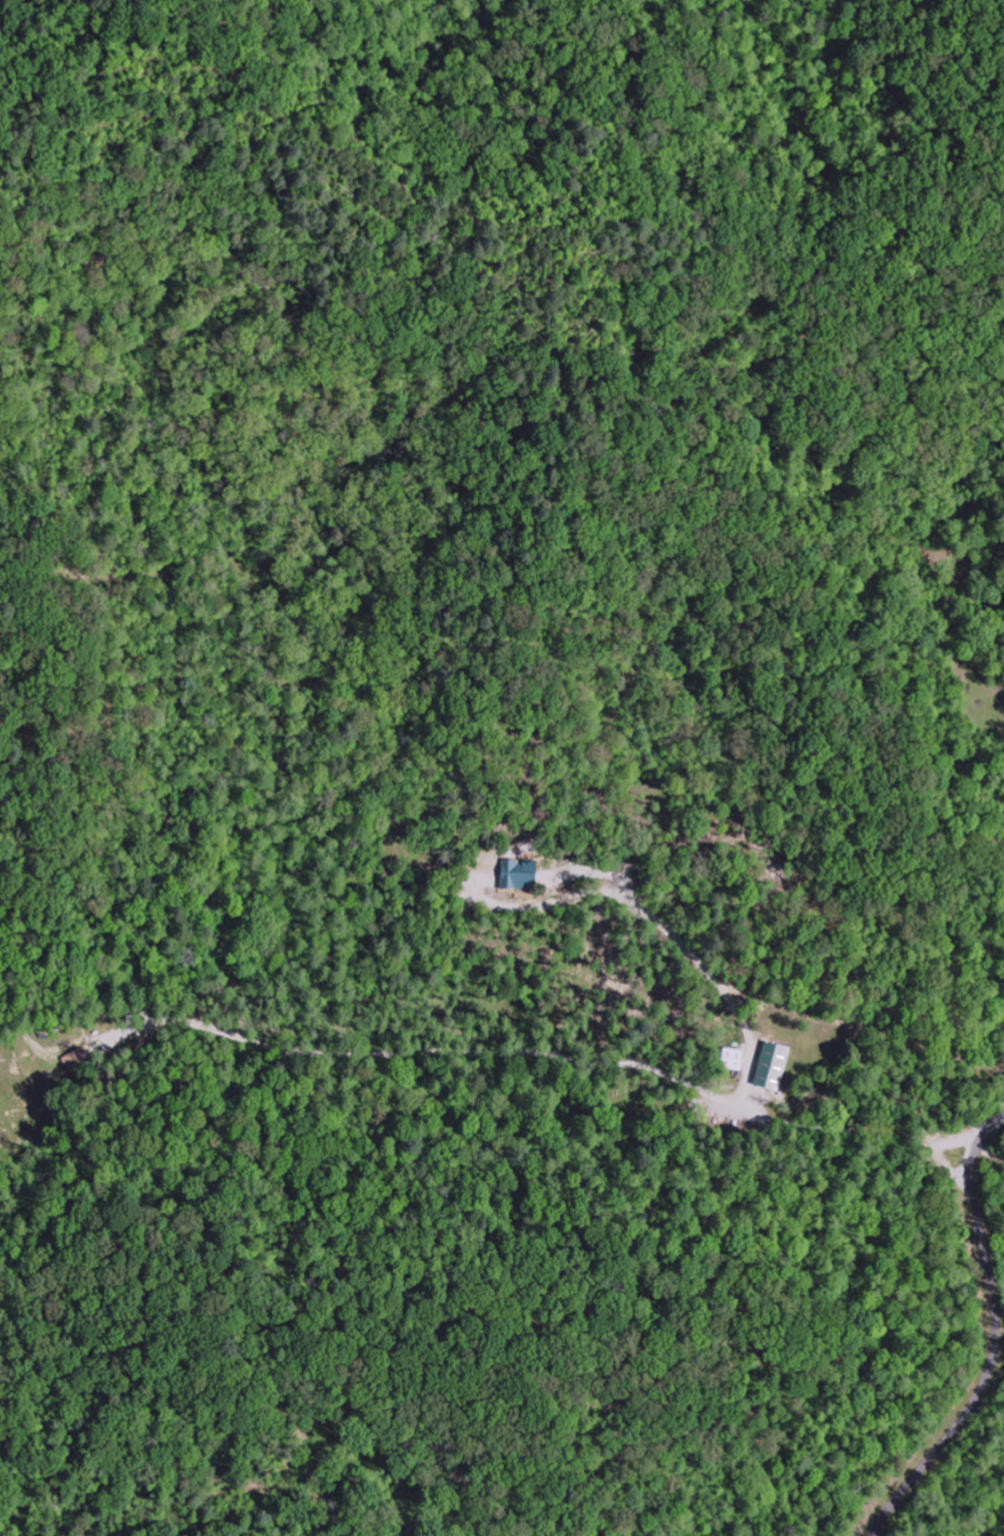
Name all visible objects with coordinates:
building: (519, 875)
building: (733, 1060)
building: (772, 1067)
road: (1001, 1341)

